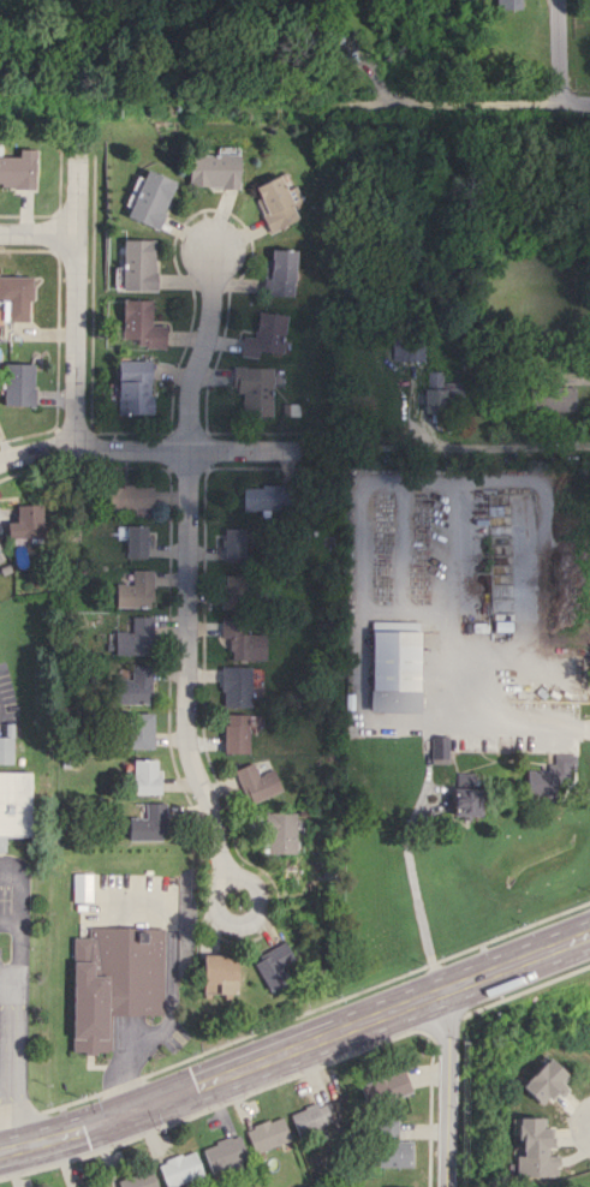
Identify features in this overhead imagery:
building: (508, 4)
road: (558, 50)
road: (472, 103)
building: (17, 168)
building: (210, 171)
building: (149, 198)
building: (275, 201)
road: (38, 229)
building: (136, 264)
building: (278, 273)
building: (16, 297)
building: (138, 323)
road: (79, 328)
building: (264, 334)
building: (406, 348)
building: (17, 383)
building: (132, 387)
building: (254, 389)
building: (441, 393)
building: (560, 398)
road: (149, 449)
road: (508, 454)
building: (127, 496)
building: (261, 497)
building: (133, 538)
building: (233, 543)
building: (1, 556)
road: (190, 567)
building: (135, 590)
building: (233, 591)
building: (135, 637)
building: (242, 642)
building: (393, 666)
building: (133, 685)
building: (234, 686)
road: (489, 721)
building: (138, 729)
building: (234, 733)
building: (439, 748)
building: (6, 750)
building: (144, 776)
building: (549, 776)
building: (256, 782)
building: (465, 801)
building: (13, 804)
building: (147, 823)
building: (280, 831)
building: (82, 887)
road: (417, 905)
road: (227, 917)
road: (10, 921)
building: (274, 965)
road: (6, 968)
building: (219, 973)
building: (114, 980)
road: (171, 989)
road: (11, 1001)
road: (296, 1046)
building: (543, 1082)
building: (385, 1087)
road: (446, 1087)
building: (310, 1119)
building: (267, 1134)
building: (392, 1146)
building: (534, 1147)
building: (224, 1153)
building: (179, 1168)
building: (137, 1179)
building: (393, 1186)

